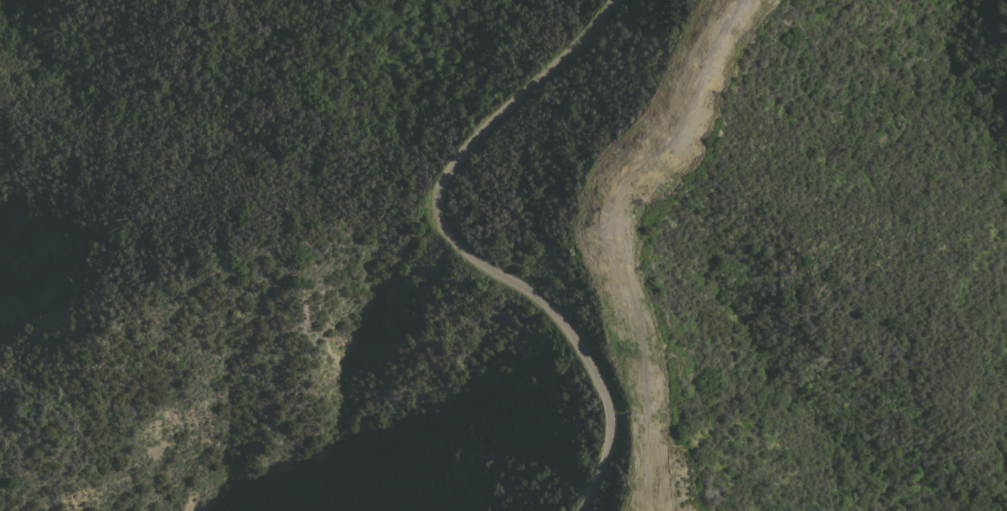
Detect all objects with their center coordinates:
road: (611, 235)
road: (462, 251)
road: (627, 412)

